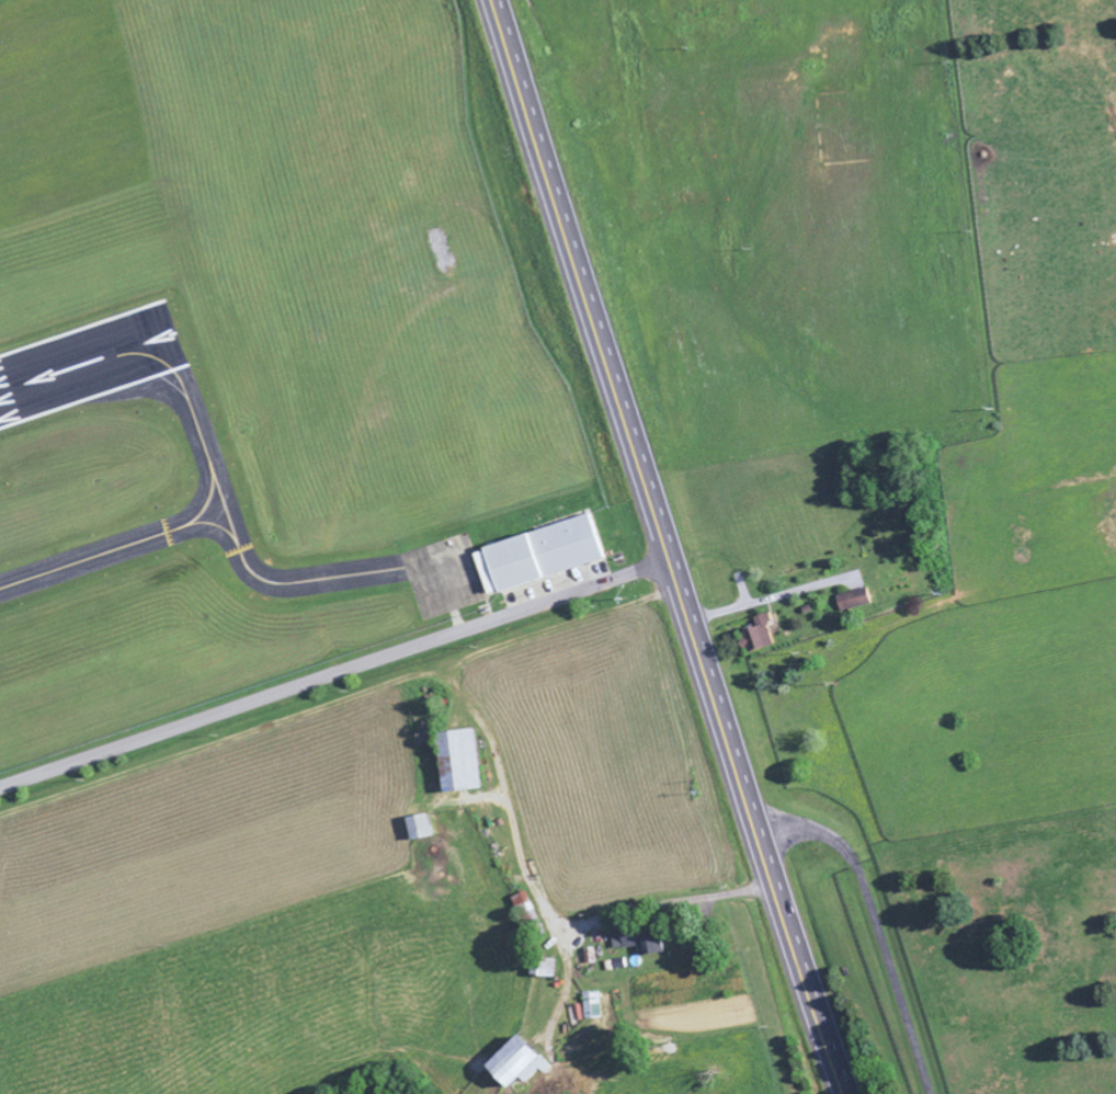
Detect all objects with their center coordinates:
airport runway: (88, 362)
airport taxiway: (198, 513)
road: (669, 547)
building: (542, 551)
airport taxiway: (278, 583)
building: (859, 596)
building: (758, 633)
road: (337, 674)
building: (458, 759)
building: (419, 825)
building: (640, 941)
building: (546, 966)
building: (593, 1003)
building: (515, 1061)

